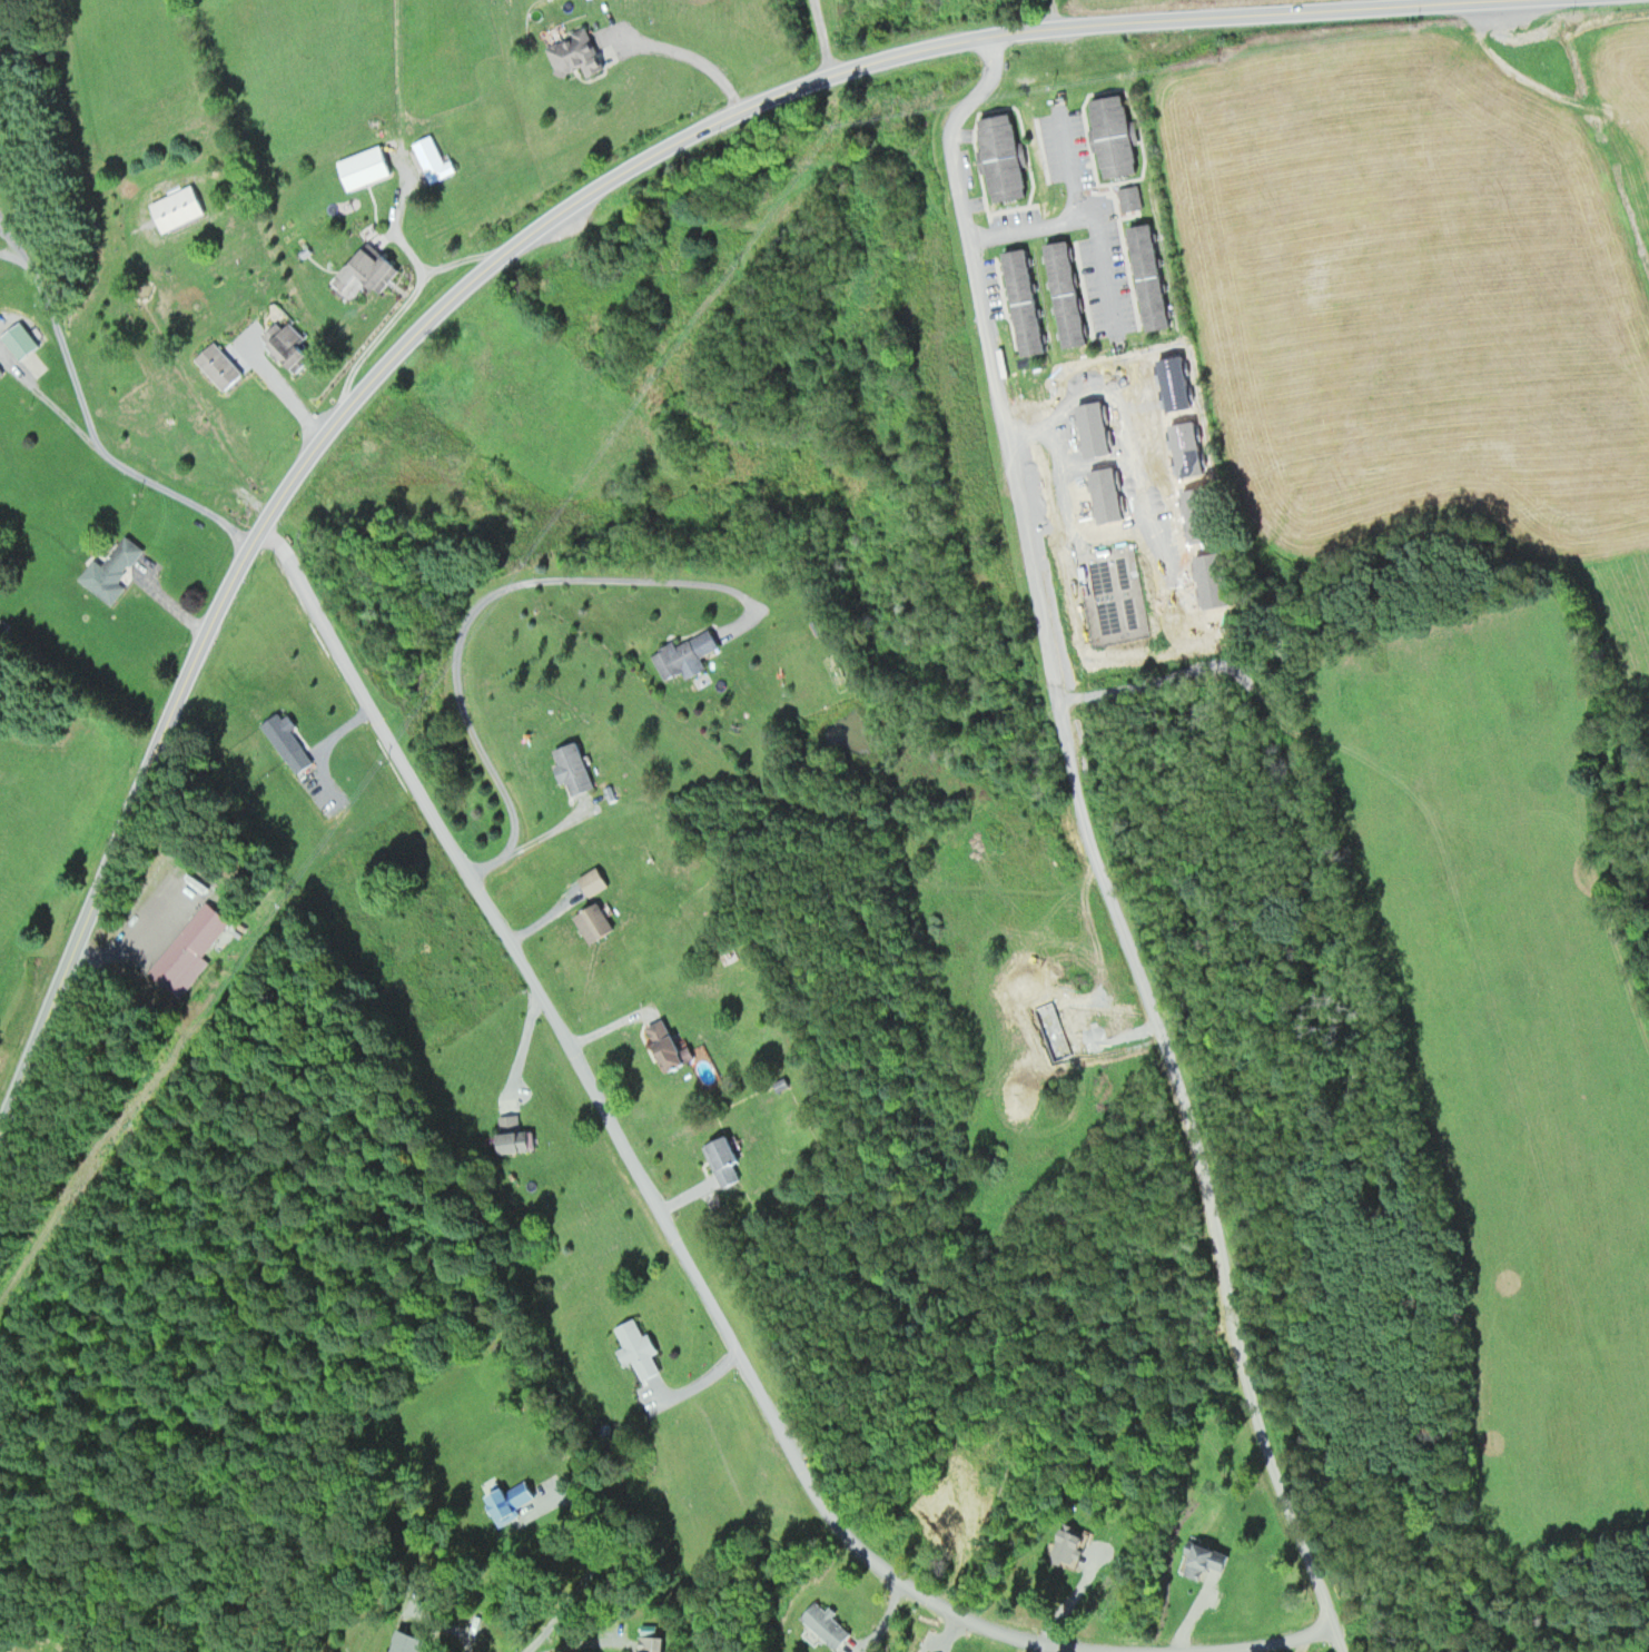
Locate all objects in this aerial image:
building: (576, 52)
building: (1116, 136)
building: (1005, 157)
building: (435, 159)
building: (366, 167)
building: (1129, 198)
building: (180, 208)
road: (517, 244)
building: (371, 268)
building: (1152, 277)
building: (1070, 294)
building: (1028, 301)
building: (22, 340)
building: (294, 346)
building: (221, 366)
building: (117, 570)
building: (688, 655)
building: (575, 769)
road: (530, 853)
building: (594, 881)
building: (596, 922)
building: (191, 948)
building: (671, 1046)
building: (514, 1136)
building: (727, 1160)
road: (663, 1258)
building: (640, 1349)
building: (515, 1498)
building: (1213, 1557)
building: (829, 1624)
building: (652, 1643)
building: (414, 1648)
building: (395, 1651)

